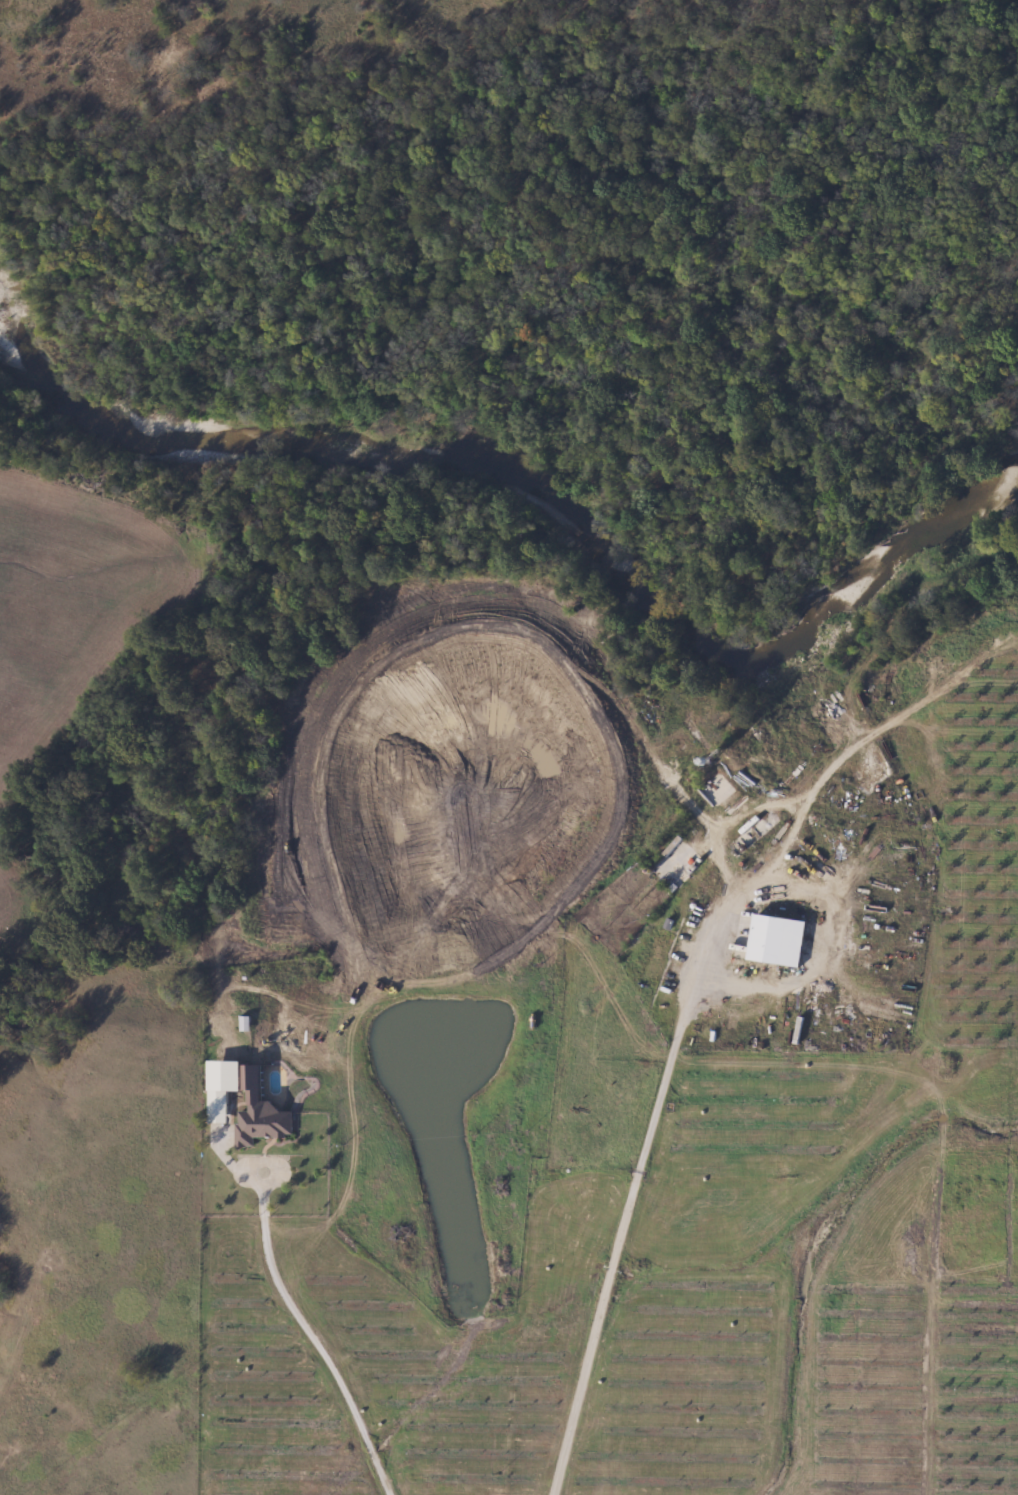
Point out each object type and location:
river: (552, 491)
building: (778, 941)
building: (263, 1125)
road: (620, 1229)
road: (313, 1344)

